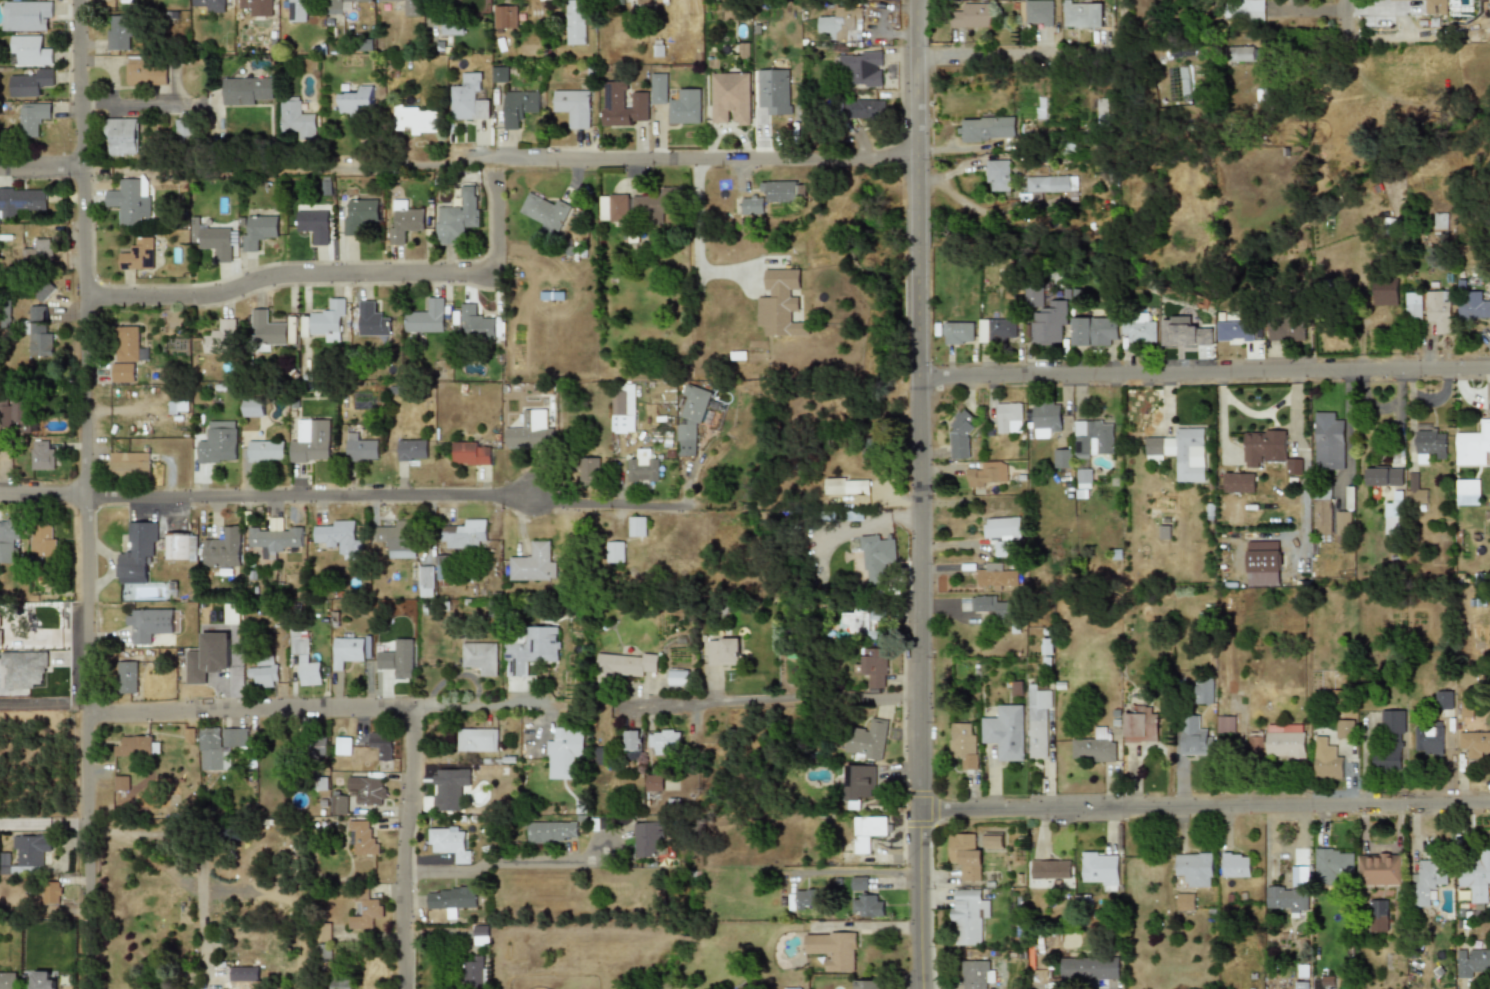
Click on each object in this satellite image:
building: (545, 0)
building: (617, 2)
building: (206, 5)
building: (335, 6)
building: (257, 7)
building: (1436, 7)
building: (410, 8)
road: (1310, 9)
building: (1248, 10)
building: (296, 11)
building: (1036, 12)
building: (1082, 14)
building: (25, 15)
building: (971, 16)
building: (506, 17)
building: (575, 22)
building: (451, 26)
building: (840, 26)
building: (118, 32)
building: (30, 50)
road: (1043, 51)
building: (1243, 53)
building: (862, 68)
building: (145, 73)
building: (498, 74)
road: (1346, 75)
building: (29, 83)
building: (657, 88)
building: (247, 90)
building: (774, 90)
building: (469, 98)
building: (730, 99)
building: (357, 100)
road: (147, 103)
building: (620, 105)
building: (517, 107)
building: (573, 107)
building: (684, 107)
building: (862, 109)
building: (1103, 111)
building: (31, 117)
building: (297, 119)
building: (416, 120)
building: (987, 128)
building: (182, 130)
building: (121, 137)
road: (643, 157)
road: (39, 166)
road: (243, 168)
building: (997, 175)
building: (1050, 184)
building: (782, 192)
building: (20, 200)
building: (126, 201)
building: (752, 205)
building: (614, 207)
building: (652, 207)
building: (542, 211)
building: (358, 214)
road: (697, 215)
building: (457, 216)
building: (404, 223)
building: (1440, 223)
building: (313, 224)
building: (257, 230)
building: (213, 241)
building: (39, 250)
building: (136, 254)
road: (332, 272)
building: (43, 290)
building: (1385, 291)
building: (1033, 297)
building: (782, 303)
building: (1414, 305)
building: (1472, 305)
building: (1438, 311)
building: (425, 316)
building: (371, 319)
building: (326, 321)
building: (1047, 323)
building: (478, 324)
building: (1139, 328)
building: (997, 329)
building: (1285, 330)
building: (272, 331)
building: (1095, 331)
building: (1234, 331)
building: (39, 333)
building: (958, 333)
building: (1184, 334)
building: (220, 336)
building: (125, 353)
road: (1203, 373)
building: (178, 406)
building: (252, 406)
building: (622, 408)
building: (4, 417)
building: (1008, 418)
building: (1045, 418)
building: (690, 423)
building: (530, 429)
building: (958, 435)
building: (1092, 438)
building: (311, 441)
building: (1327, 441)
building: (1429, 442)
building: (218, 443)
building: (1473, 444)
building: (360, 448)
building: (412, 450)
building: (1270, 450)
building: (265, 451)
building: (470, 453)
building: (1179, 453)
building: (43, 455)
building: (1062, 458)
building: (129, 464)
building: (642, 468)
building: (589, 469)
building: (985, 474)
building: (1383, 476)
building: (1082, 481)
building: (1239, 482)
building: (845, 486)
building: (1415, 491)
building: (1466, 492)
road: (81, 494)
road: (917, 494)
road: (338, 496)
building: (1322, 510)
building: (1393, 515)
building: (1343, 523)
building: (637, 527)
building: (1003, 533)
building: (464, 535)
building: (8, 537)
building: (274, 538)
building: (337, 538)
building: (397, 540)
building: (43, 541)
building: (180, 547)
building: (222, 549)
building: (616, 551)
building: (137, 552)
building: (877, 554)
building: (534, 562)
building: (1261, 563)
building: (425, 577)
building: (995, 577)
building: (990, 607)
building: (862, 620)
building: (148, 623)
building: (0, 629)
building: (391, 641)
building: (529, 649)
building: (346, 651)
building: (724, 651)
building: (206, 657)
building: (480, 657)
building: (400, 658)
building: (304, 660)
building: (622, 665)
building: (874, 666)
building: (23, 668)
building: (263, 673)
building: (126, 678)
building: (677, 678)
building: (1204, 690)
road: (48, 697)
building: (1443, 699)
road: (313, 710)
road: (766, 710)
building: (1038, 722)
building: (1225, 724)
building: (1140, 727)
building: (1344, 729)
building: (1005, 732)
building: (1195, 736)
building: (867, 739)
building: (477, 740)
building: (663, 741)
building: (1285, 741)
building: (1389, 742)
building: (1428, 742)
building: (1474, 742)
building: (276, 743)
building: (1255, 743)
building: (632, 744)
building: (963, 744)
building: (381, 745)
building: (137, 746)
building: (218, 746)
building: (315, 746)
building: (1094, 748)
building: (563, 752)
building: (599, 756)
building: (1325, 760)
building: (120, 782)
building: (654, 783)
building: (857, 784)
building: (366, 790)
road: (405, 790)
building: (446, 790)
building: (337, 805)
road: (1204, 816)
road: (41, 823)
building: (867, 831)
building: (552, 832)
building: (361, 838)
building: (648, 839)
building: (993, 842)
building: (448, 843)
building: (26, 853)
building: (966, 856)
road: (507, 861)
building: (1236, 864)
building: (1334, 864)
building: (1194, 868)
building: (1101, 869)
building: (1380, 869)
building: (1050, 872)
road: (859, 873)
building: (1476, 876)
building: (1425, 881)
building: (860, 883)
building: (51, 892)
building: (1286, 897)
building: (451, 898)
building: (802, 900)
building: (1184, 901)
building: (867, 906)
building: (365, 910)
building: (1379, 915)
building: (967, 916)
road: (400, 931)
building: (322, 932)
building: (480, 934)
building: (834, 949)
building: (1471, 961)
building: (1090, 969)
building: (242, 973)
building: (475, 973)
building: (975, 974)
building: (41, 980)
building: (7, 982)
building: (343, 984)
building: (867, 984)
building: (1302, 985)
building: (792, 988)

